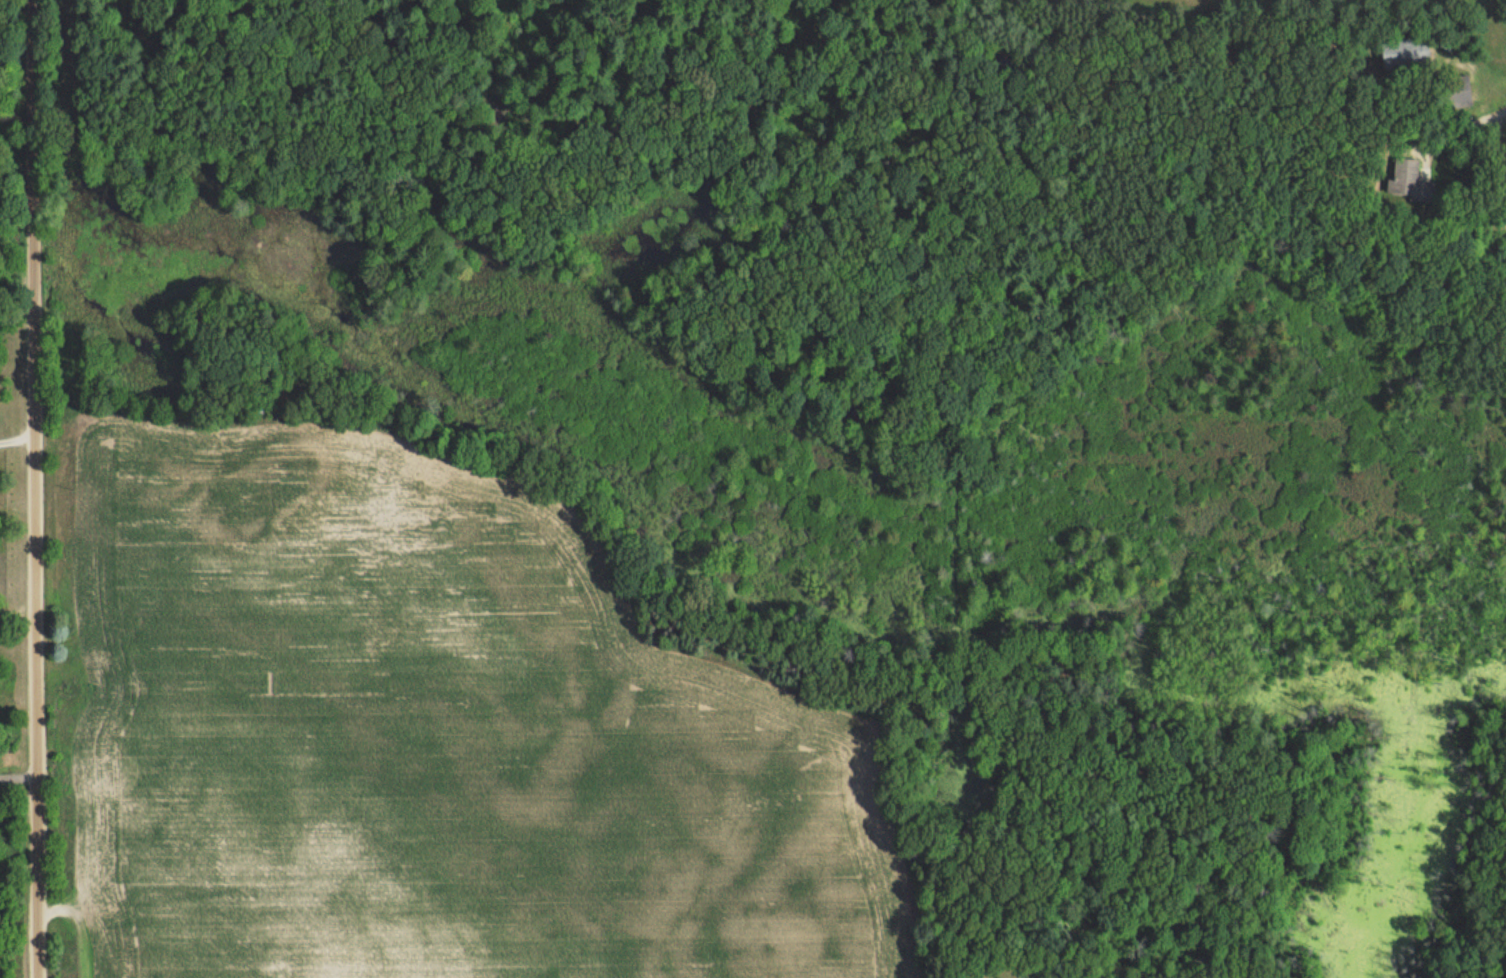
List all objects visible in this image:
building: (1405, 52)
building: (1457, 92)
road: (1464, 127)
road: (14, 438)
road: (27, 489)
road: (14, 611)
building: (92, 661)
road: (19, 769)

